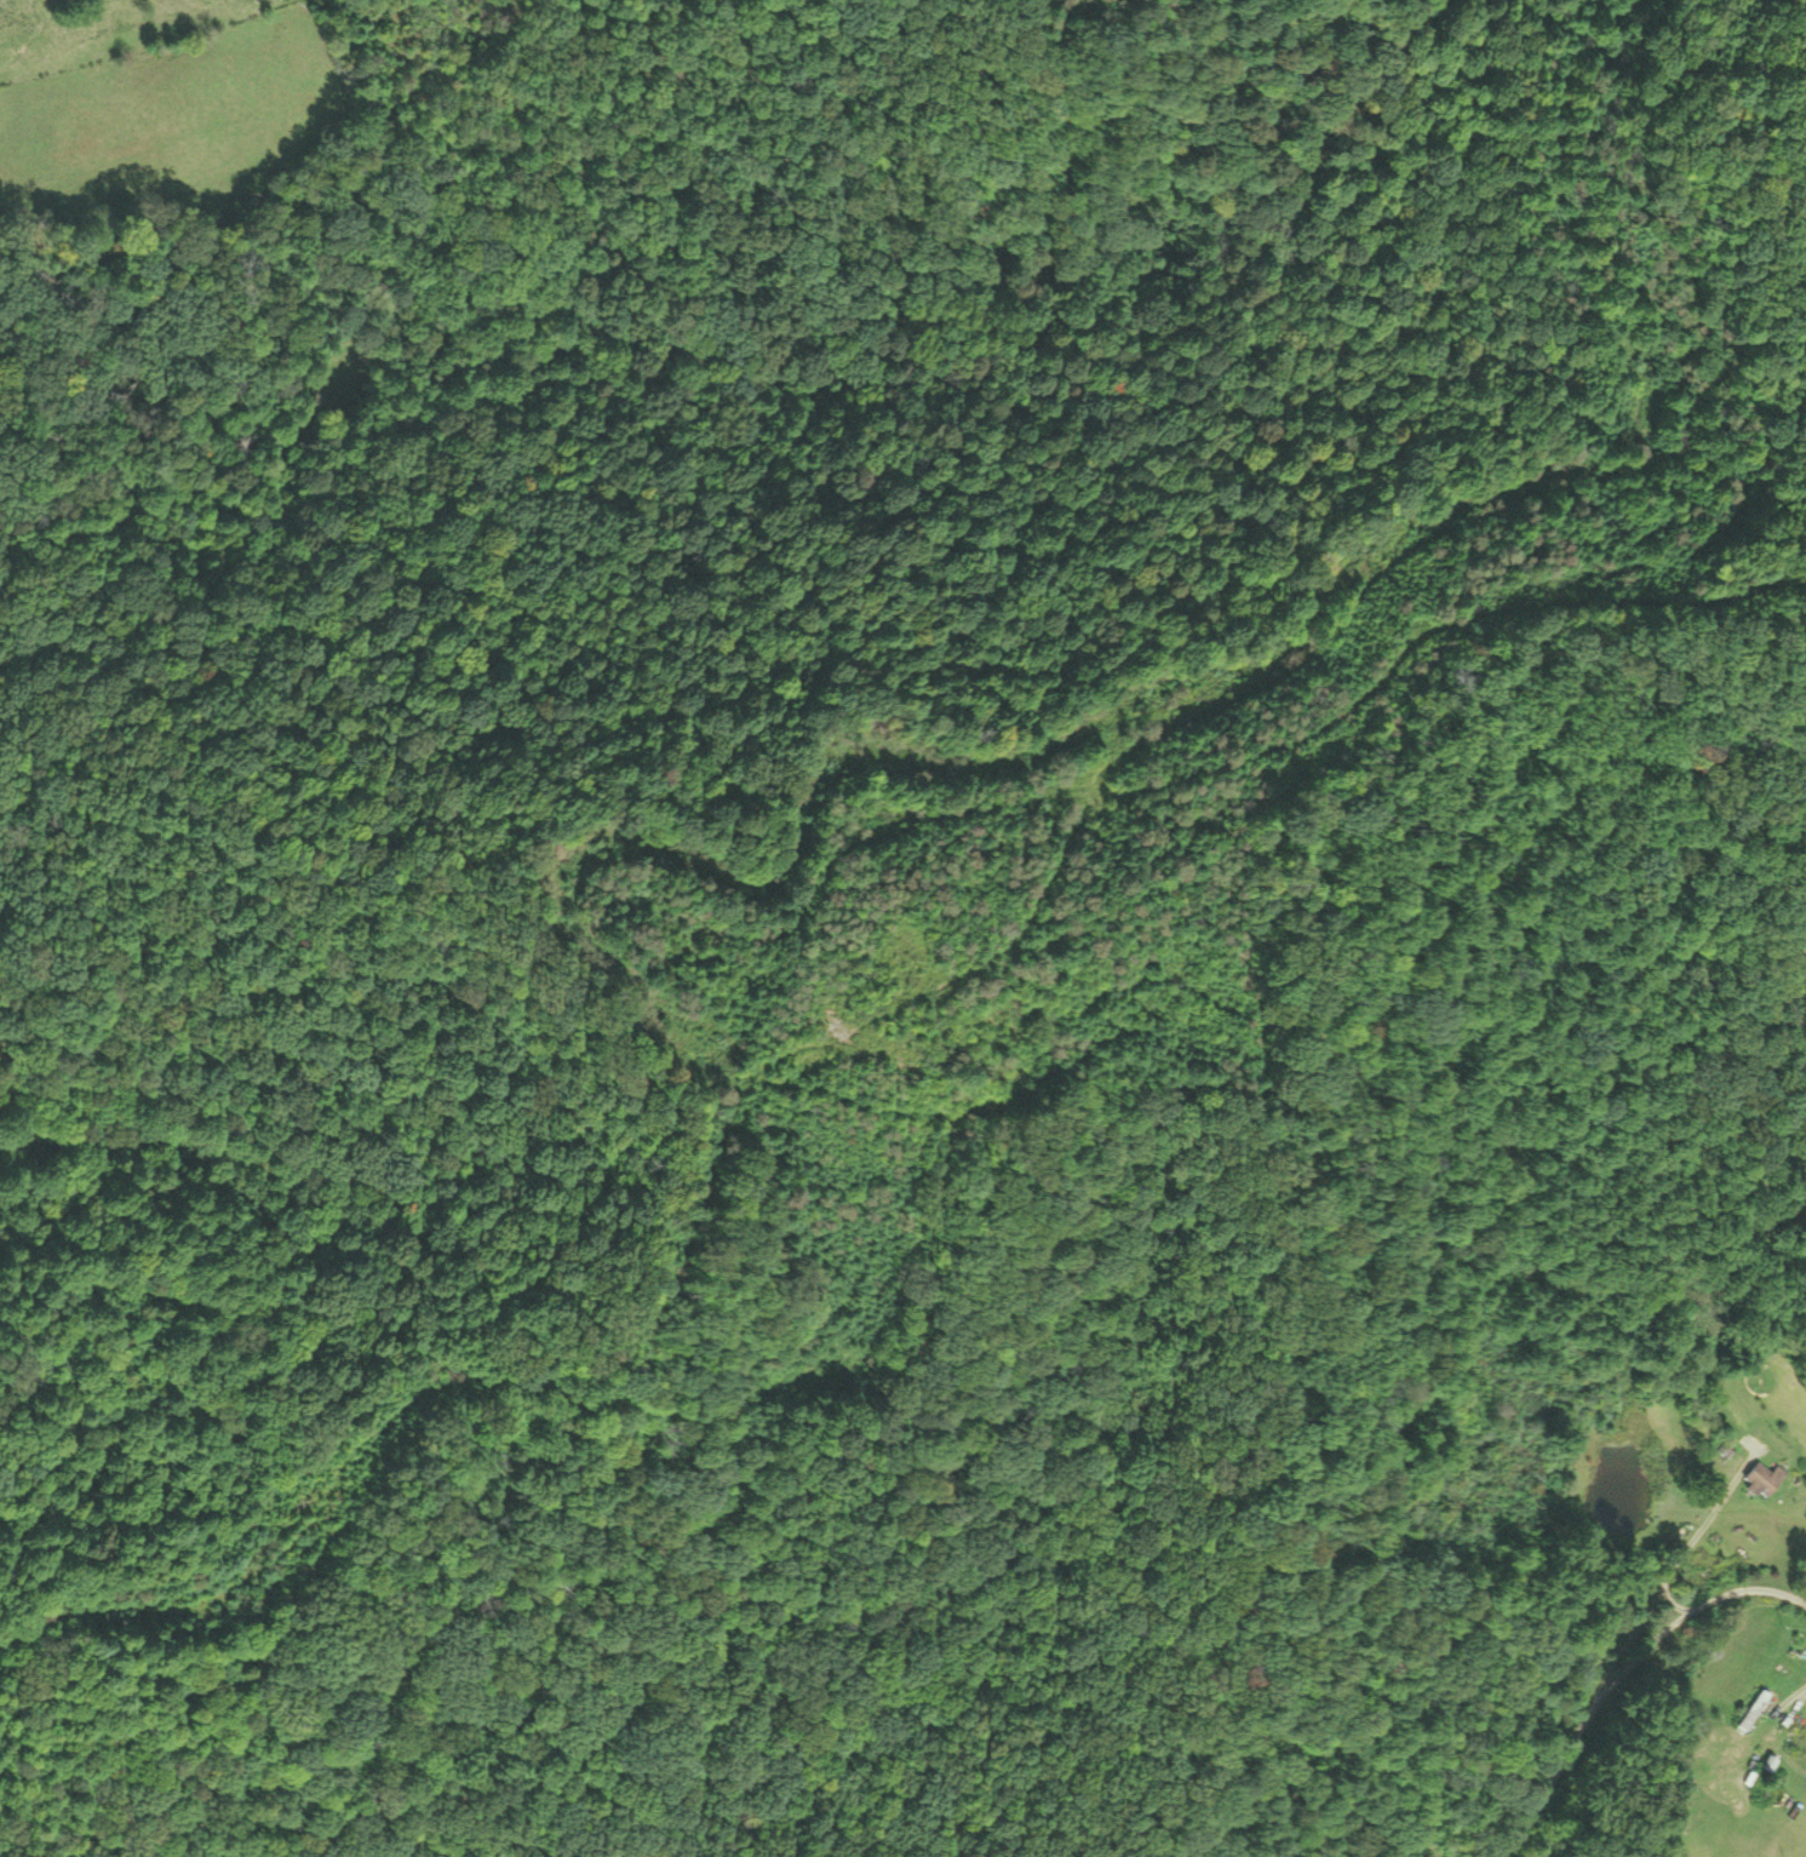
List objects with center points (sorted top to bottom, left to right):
building: (1766, 1481)
road: (1611, 1673)
building: (1754, 1713)

